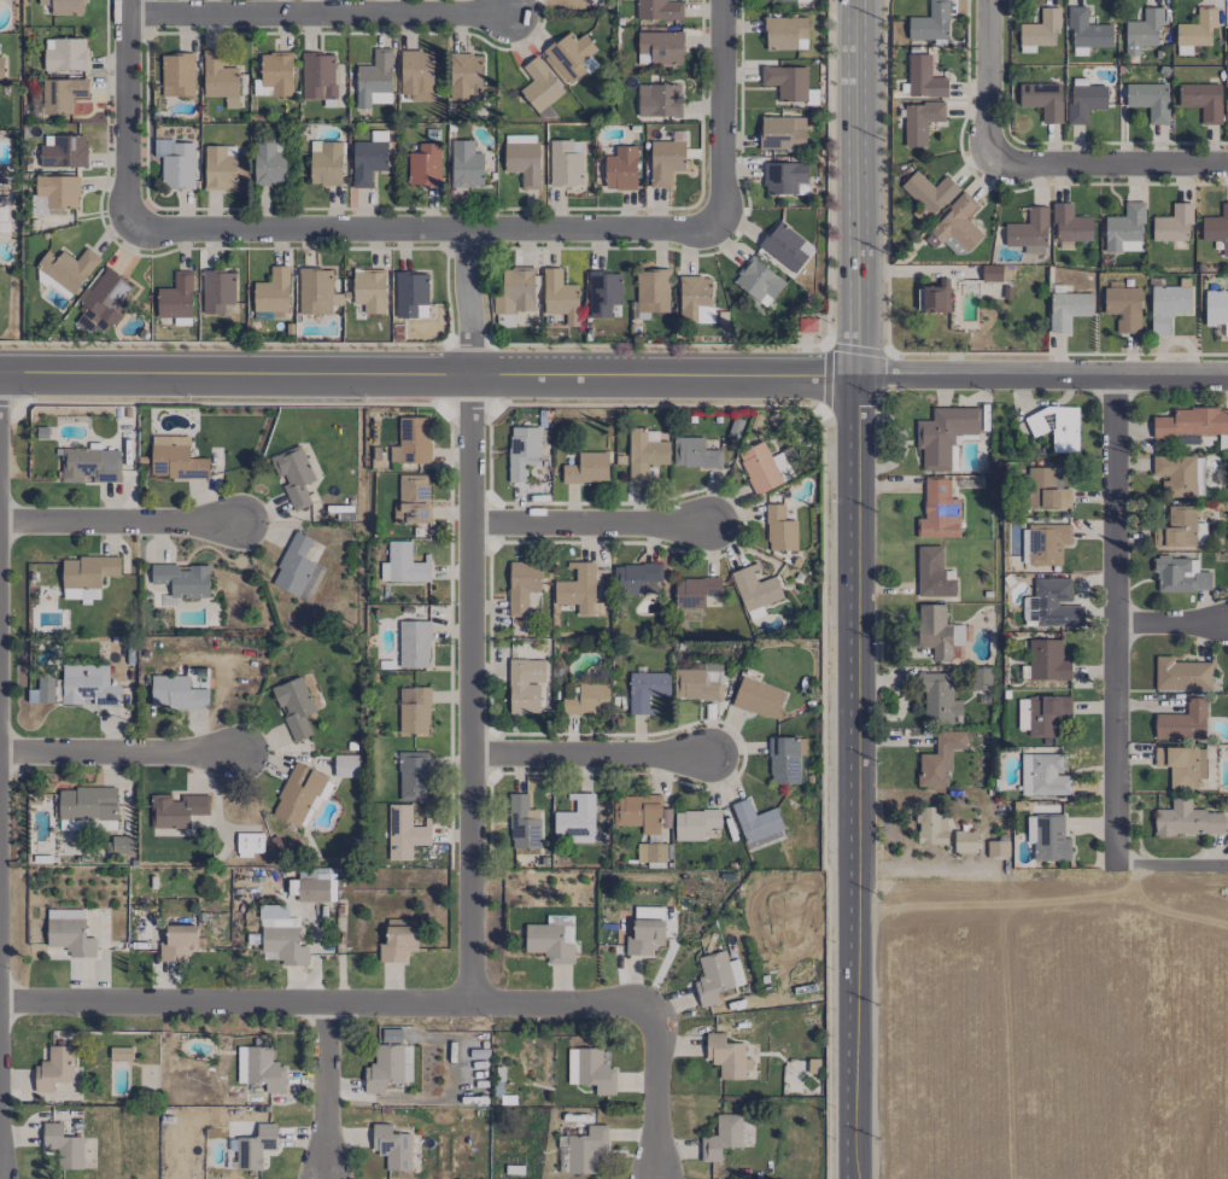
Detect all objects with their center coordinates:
building: (783, 0)
building: (63, 6)
building: (659, 10)
road: (316, 14)
building: (930, 23)
building: (1039, 30)
building: (1141, 30)
building: (1086, 31)
building: (1194, 31)
building: (784, 33)
building: (660, 47)
building: (64, 54)
building: (571, 56)
building: (1, 68)
building: (276, 72)
building: (176, 75)
building: (416, 75)
building: (317, 76)
building: (464, 76)
building: (924, 77)
building: (218, 78)
building: (374, 80)
building: (786, 82)
road: (988, 83)
building: (539, 86)
building: (62, 94)
building: (1041, 99)
building: (657, 100)
building: (1083, 100)
building: (1148, 100)
building: (1201, 100)
road: (127, 115)
road: (720, 115)
building: (919, 121)
building: (782, 132)
building: (375, 135)
building: (62, 151)
building: (522, 158)
building: (367, 160)
building: (665, 160)
building: (269, 162)
building: (565, 162)
building: (324, 163)
building: (464, 163)
building: (177, 165)
building: (423, 165)
building: (220, 167)
road: (1107, 167)
building: (620, 169)
building: (784, 177)
road: (859, 188)
building: (58, 192)
building: (928, 192)
building: (1069, 223)
building: (1173, 224)
building: (954, 226)
road: (423, 228)
building: (1216, 228)
building: (1124, 229)
building: (1028, 232)
building: (785, 246)
building: (68, 268)
building: (990, 273)
building: (758, 281)
building: (369, 290)
building: (651, 290)
building: (216, 291)
building: (315, 291)
building: (515, 291)
building: (271, 293)
building: (694, 293)
building: (410, 294)
building: (603, 294)
building: (560, 296)
building: (175, 297)
building: (932, 298)
building: (106, 300)
road: (464, 302)
building: (1166, 307)
building: (1123, 308)
building: (1068, 309)
building: (1216, 311)
road: (428, 374)
road: (1042, 374)
building: (1189, 422)
building: (1056, 427)
building: (943, 434)
building: (411, 442)
building: (521, 451)
building: (694, 453)
building: (645, 455)
building: (175, 459)
building: (90, 465)
building: (587, 468)
building: (764, 468)
building: (293, 474)
building: (1175, 474)
building: (1046, 489)
building: (411, 498)
building: (938, 510)
road: (121, 523)
road: (591, 525)
building: (1175, 527)
building: (779, 529)
building: (1046, 543)
building: (402, 564)
building: (297, 568)
building: (931, 573)
building: (1180, 574)
building: (86, 576)
building: (635, 578)
building: (182, 579)
building: (521, 586)
building: (579, 590)
building: (694, 591)
building: (754, 593)
building: (1052, 605)
road: (1113, 620)
road: (1171, 623)
building: (934, 634)
building: (414, 644)
building: (1046, 660)
building: (1181, 675)
building: (697, 683)
building: (87, 684)
building: (525, 685)
building: (45, 688)
building: (645, 690)
road: (470, 691)
building: (176, 693)
building: (31, 695)
building: (758, 698)
building: (938, 699)
building: (587, 700)
building: (294, 706)
building: (414, 710)
building: (1045, 714)
building: (1182, 722)
road: (119, 753)
road: (589, 755)
building: (783, 760)
building: (940, 760)
building: (345, 765)
building: (1182, 765)
building: (1043, 775)
building: (414, 776)
road: (853, 777)
building: (299, 795)
building: (86, 804)
building: (176, 810)
building: (637, 812)
building: (575, 819)
building: (1186, 819)
building: (522, 823)
building: (694, 823)
building: (758, 824)
building: (930, 827)
road: (910, 828)
building: (404, 833)
building: (1046, 834)
building: (964, 841)
building: (248, 844)
building: (116, 845)
building: (996, 848)
building: (650, 852)
road: (1170, 865)
building: (315, 885)
building: (64, 912)
building: (645, 930)
building: (281, 935)
building: (70, 936)
building: (398, 940)
building: (177, 942)
building: (549, 942)
building: (715, 977)
road: (415, 1006)
building: (391, 1035)
building: (119, 1052)
building: (726, 1056)
building: (387, 1067)
building: (53, 1069)
building: (264, 1069)
building: (591, 1069)
road: (326, 1092)
building: (721, 1137)
building: (63, 1145)
building: (257, 1146)
building: (391, 1146)
building: (586, 1149)
building: (562, 1154)

